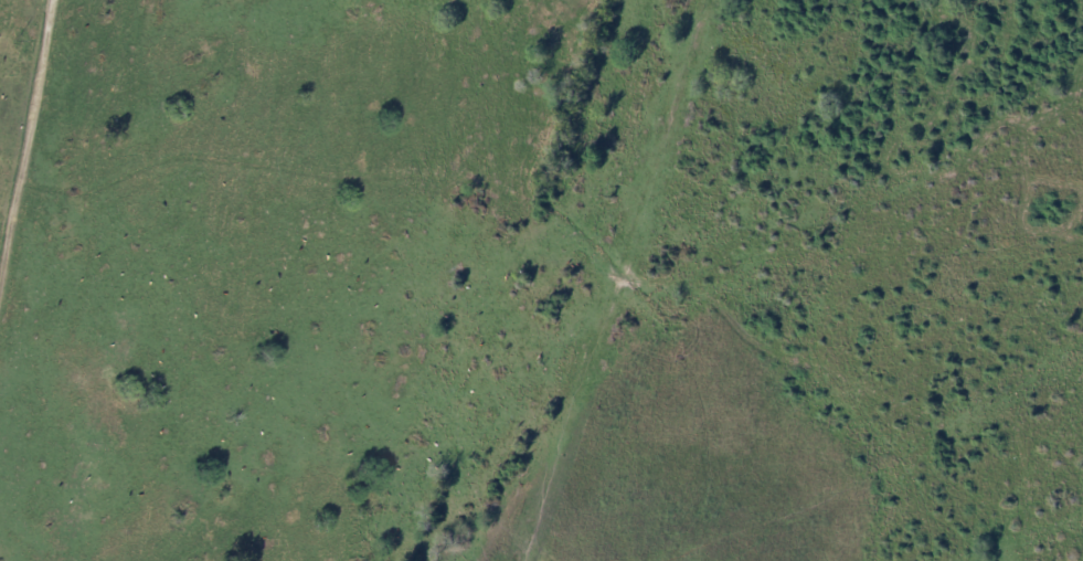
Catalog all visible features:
road: (30, 162)

